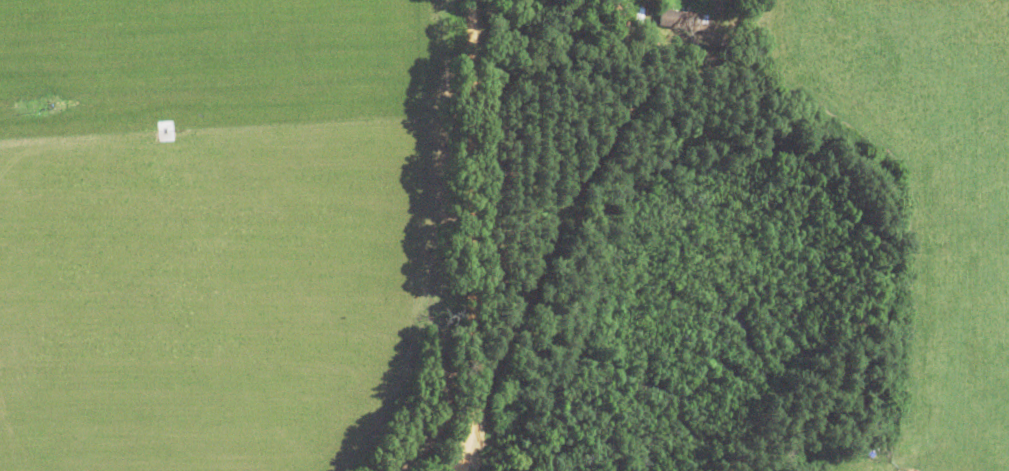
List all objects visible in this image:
road: (740, 97)
road: (470, 236)

